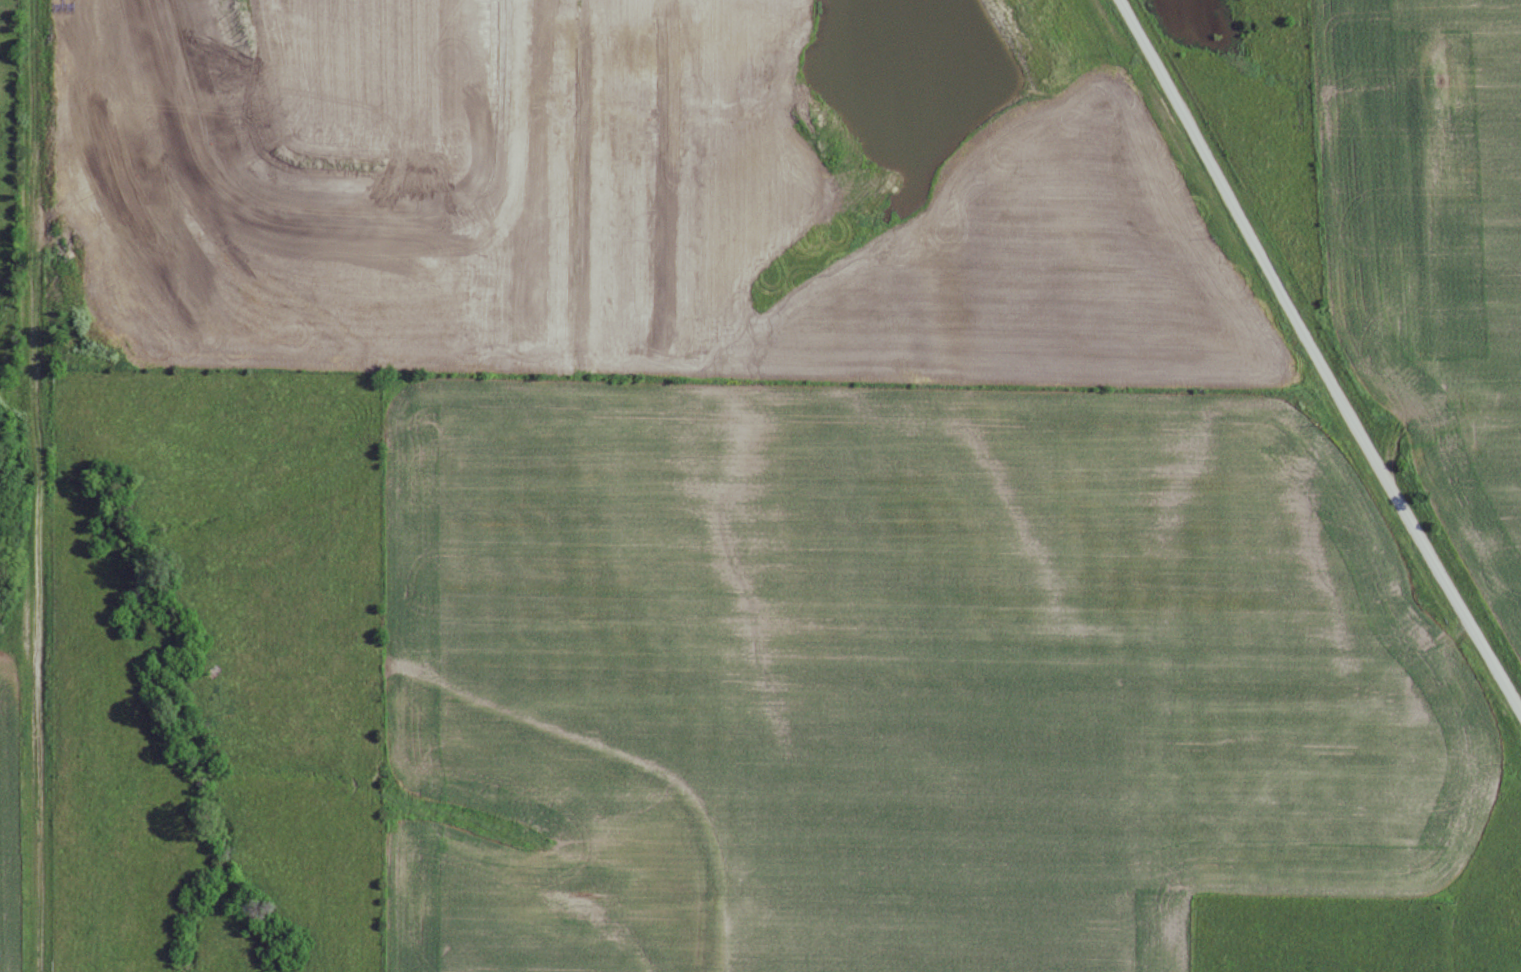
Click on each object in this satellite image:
road: (1317, 358)
road: (36, 486)

